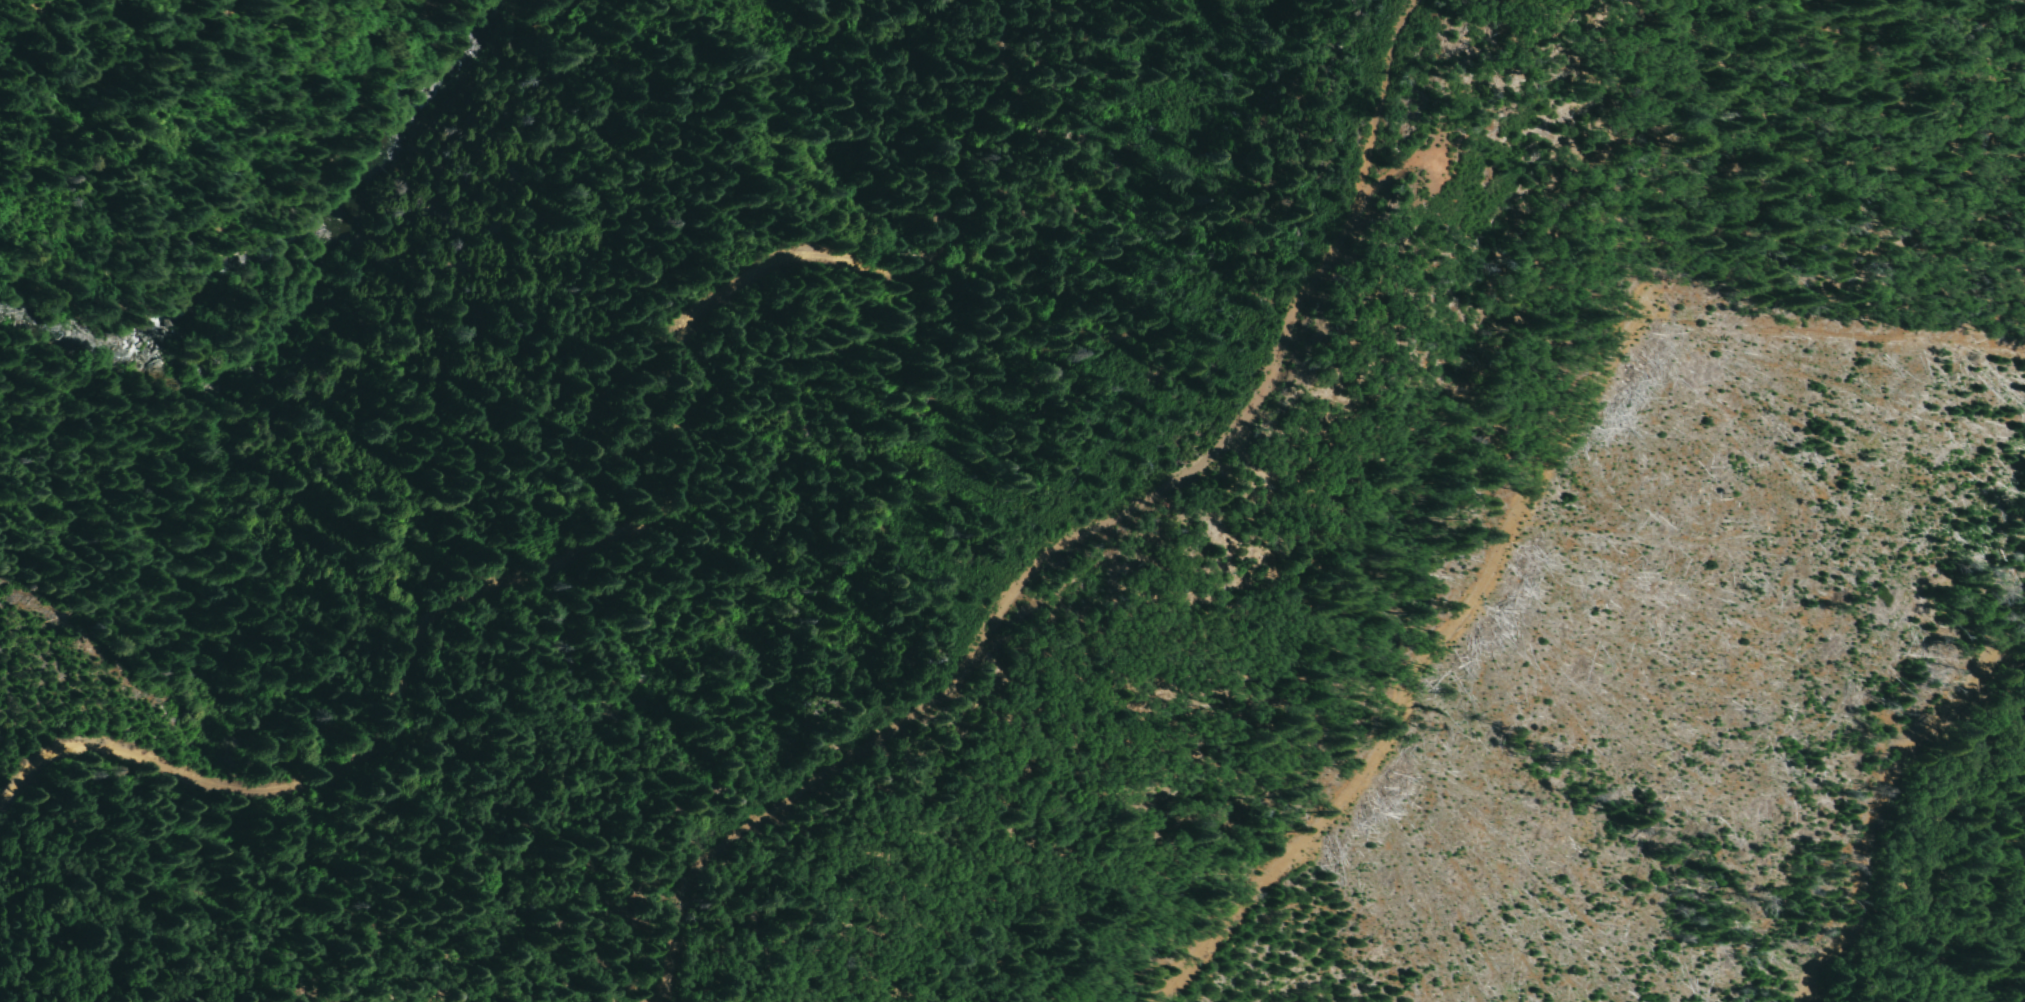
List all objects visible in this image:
road: (1869, 780)

